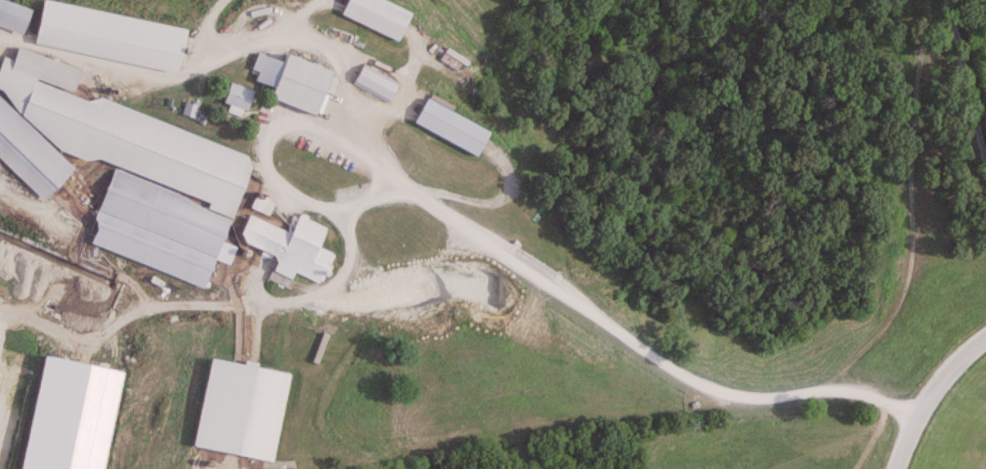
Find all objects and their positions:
building: (11, 16)
building: (374, 16)
building: (104, 37)
road: (222, 59)
building: (290, 83)
building: (372, 83)
road: (964, 86)
building: (234, 98)
building: (447, 128)
building: (119, 169)
road: (445, 219)
building: (288, 248)
road: (932, 396)
building: (244, 408)

